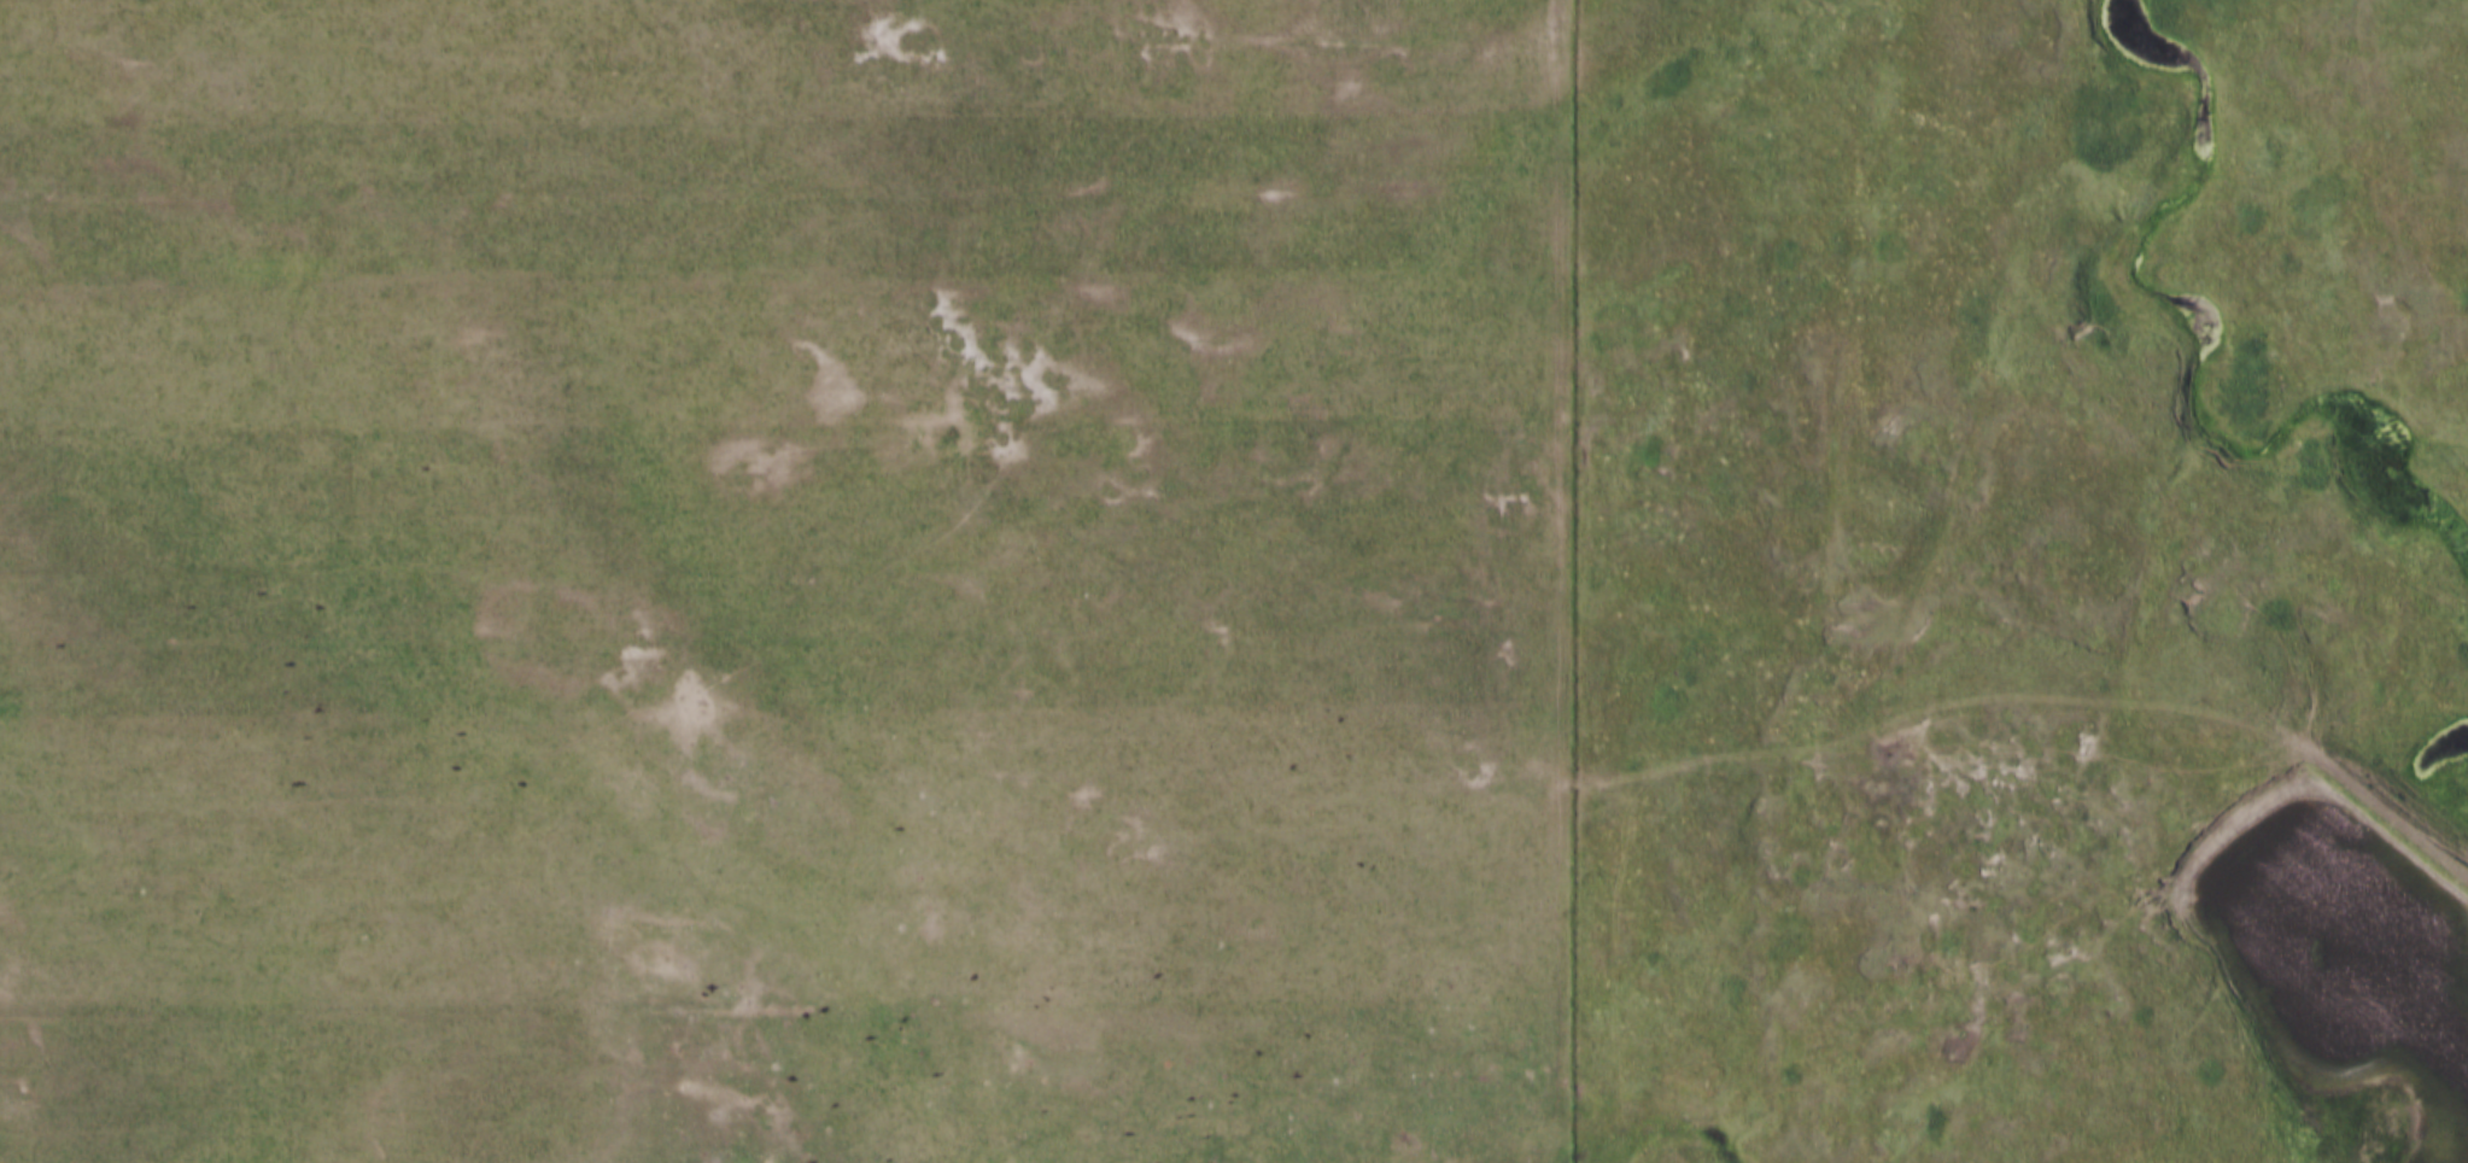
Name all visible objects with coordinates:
road: (1561, 553)
dam: (2388, 816)

